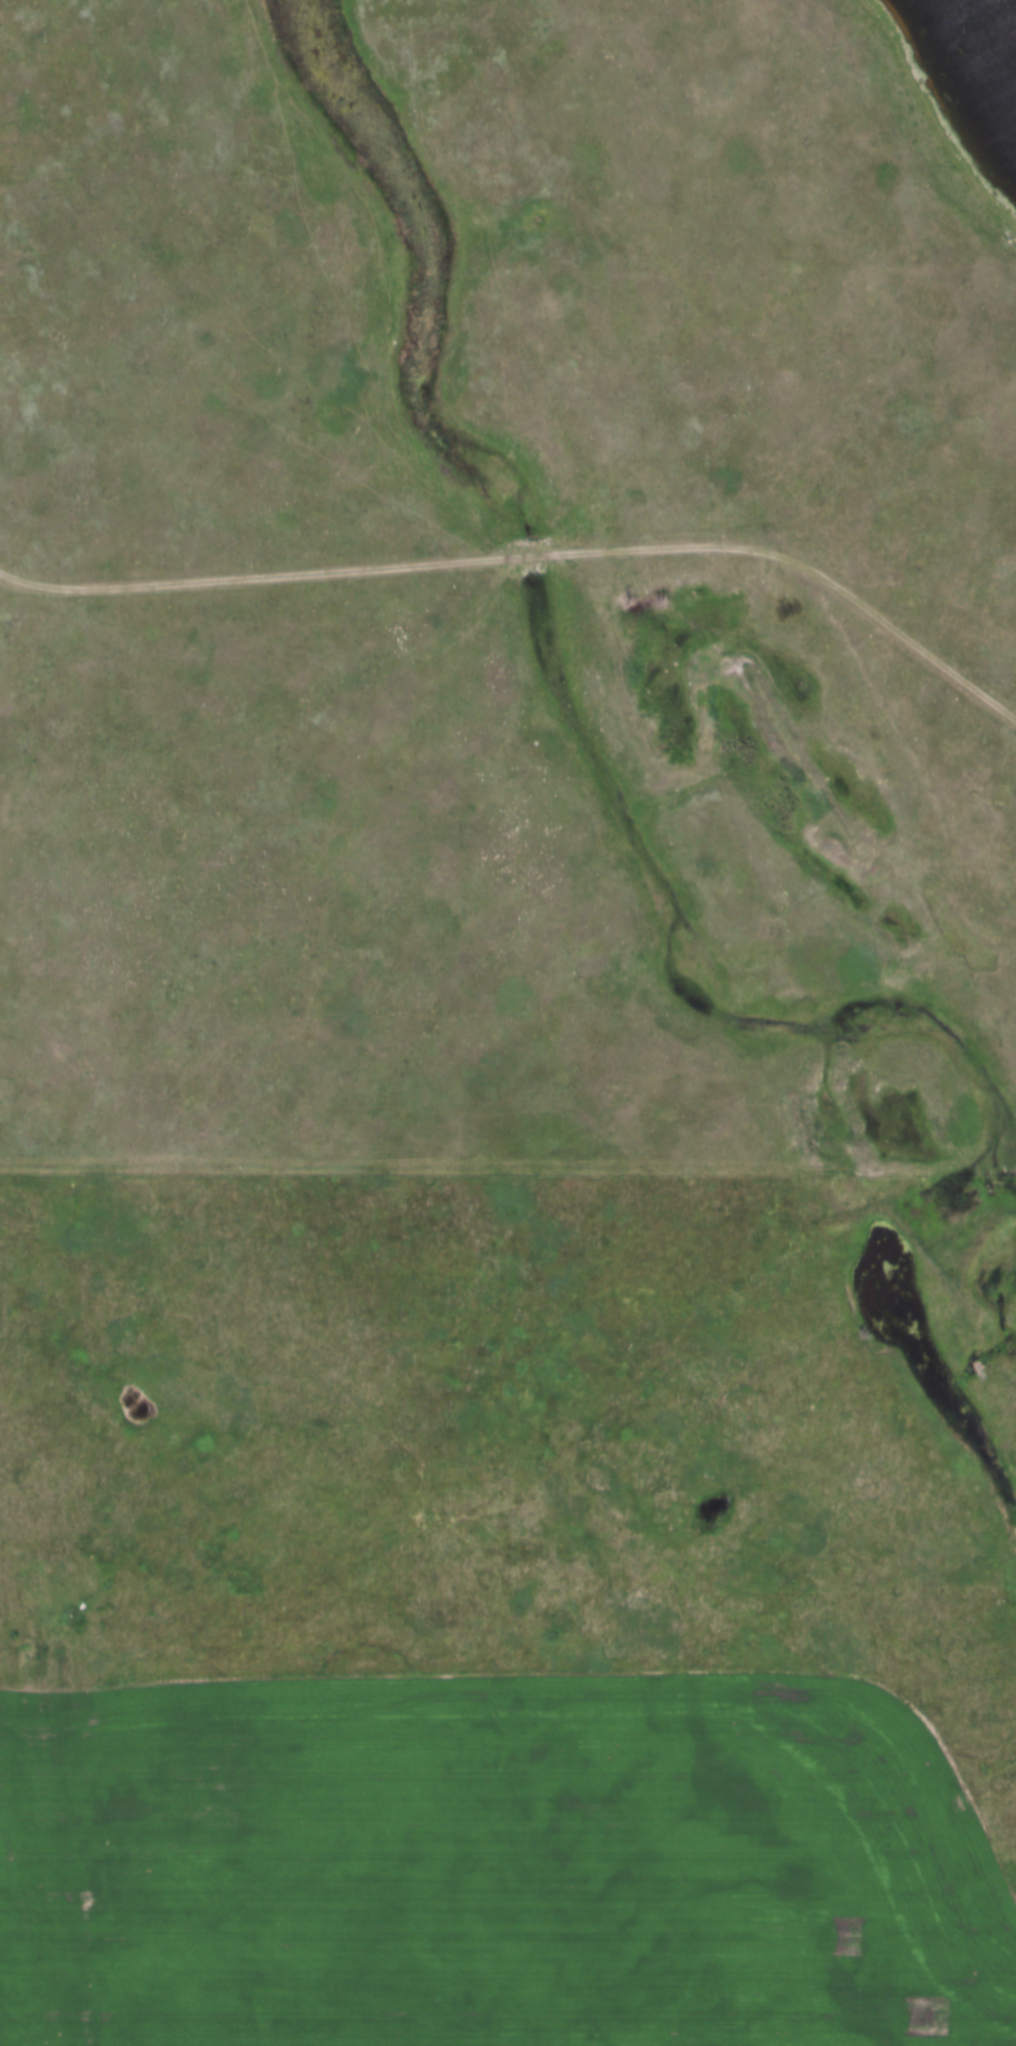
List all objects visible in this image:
road: (533, 550)

